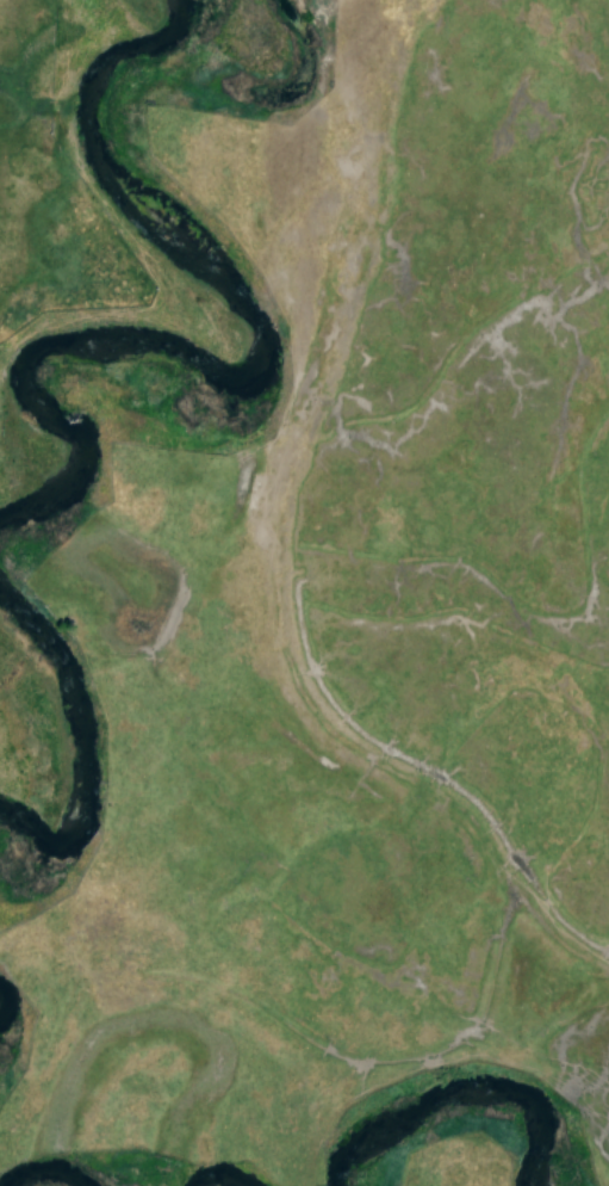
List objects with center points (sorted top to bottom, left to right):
river: (249, 365)
river: (70, 752)
river: (509, 1104)
river: (366, 1134)
river: (38, 1179)
river: (204, 1185)

